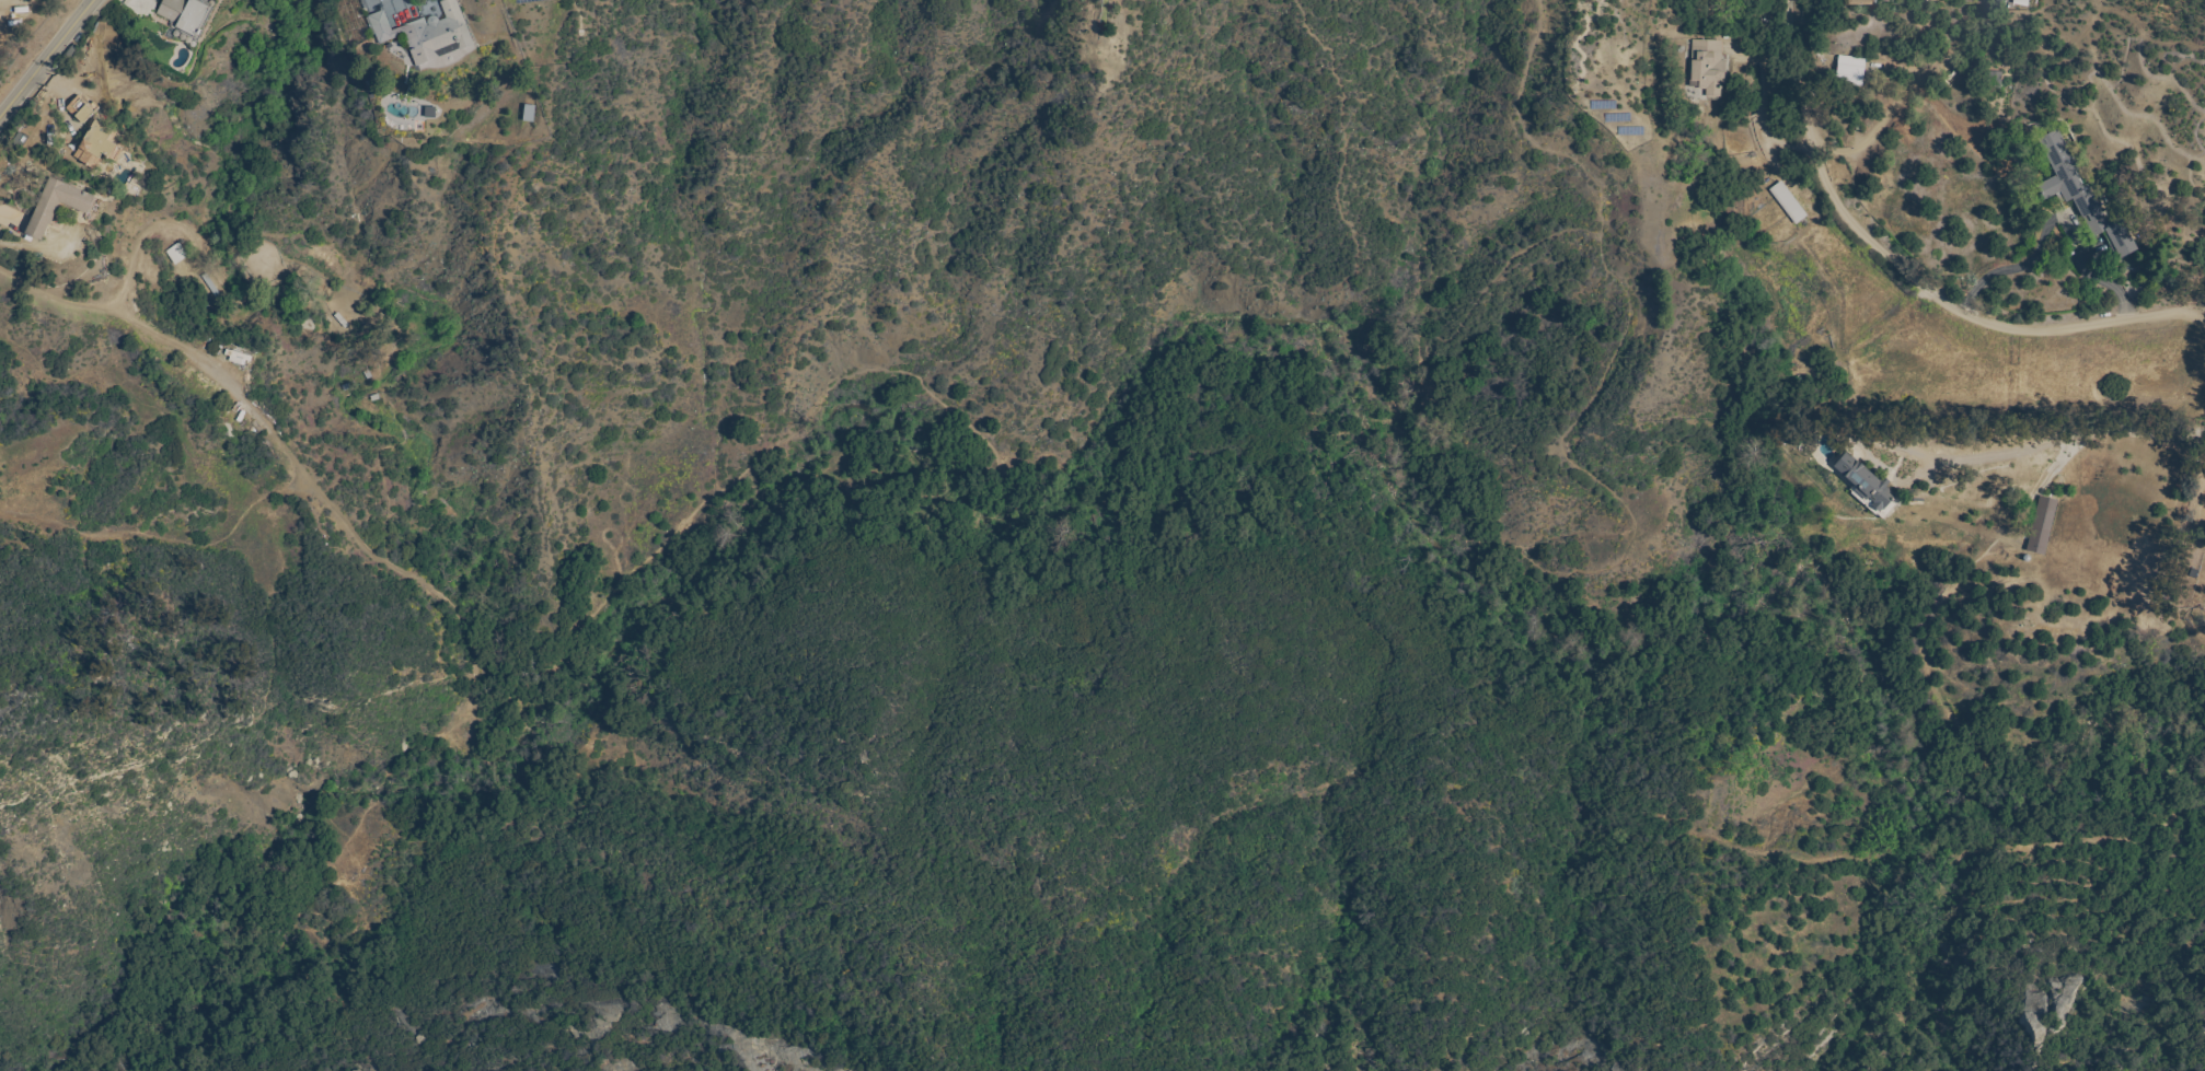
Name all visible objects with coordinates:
building: (1859, 2)
building: (2021, 2)
building: (187, 19)
building: (426, 33)
road: (50, 61)
building: (1708, 67)
building: (1850, 71)
building: (81, 109)
building: (527, 113)
building: (97, 147)
building: (2081, 195)
building: (1788, 202)
building: (57, 205)
road: (2054, 216)
building: (176, 254)
road: (1913, 275)
building: (289, 312)
road: (122, 313)
building: (238, 357)
road: (2031, 453)
building: (1865, 482)
building: (2042, 526)

